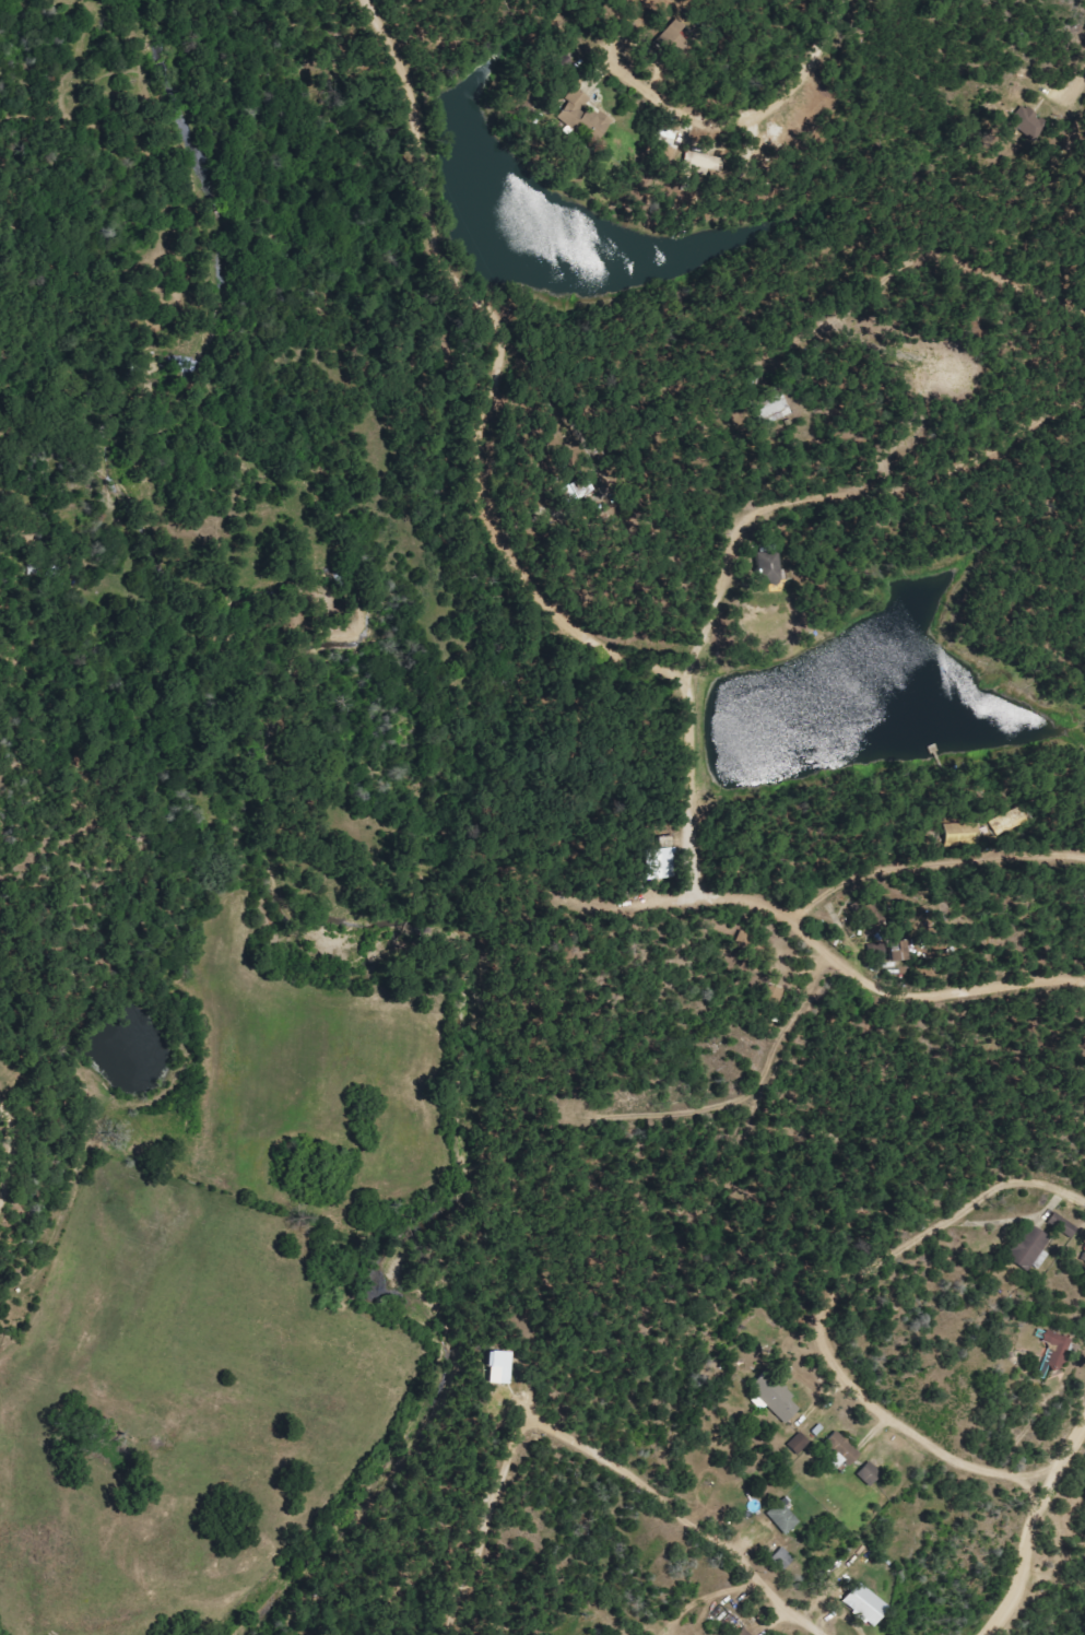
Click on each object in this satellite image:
road: (1074, 72)
road: (752, 113)
building: (598, 122)
road: (803, 307)
road: (498, 369)
road: (826, 469)
building: (768, 566)
road: (697, 831)
road: (937, 856)
road: (936, 987)
road: (742, 1090)
road: (10, 1146)
building: (1033, 1246)
road: (827, 1311)
building: (1058, 1346)
building: (787, 1408)
building: (799, 1442)
building: (847, 1448)
road: (511, 1459)
road: (683, 1509)
building: (786, 1515)
road: (1036, 1522)
building: (871, 1603)

